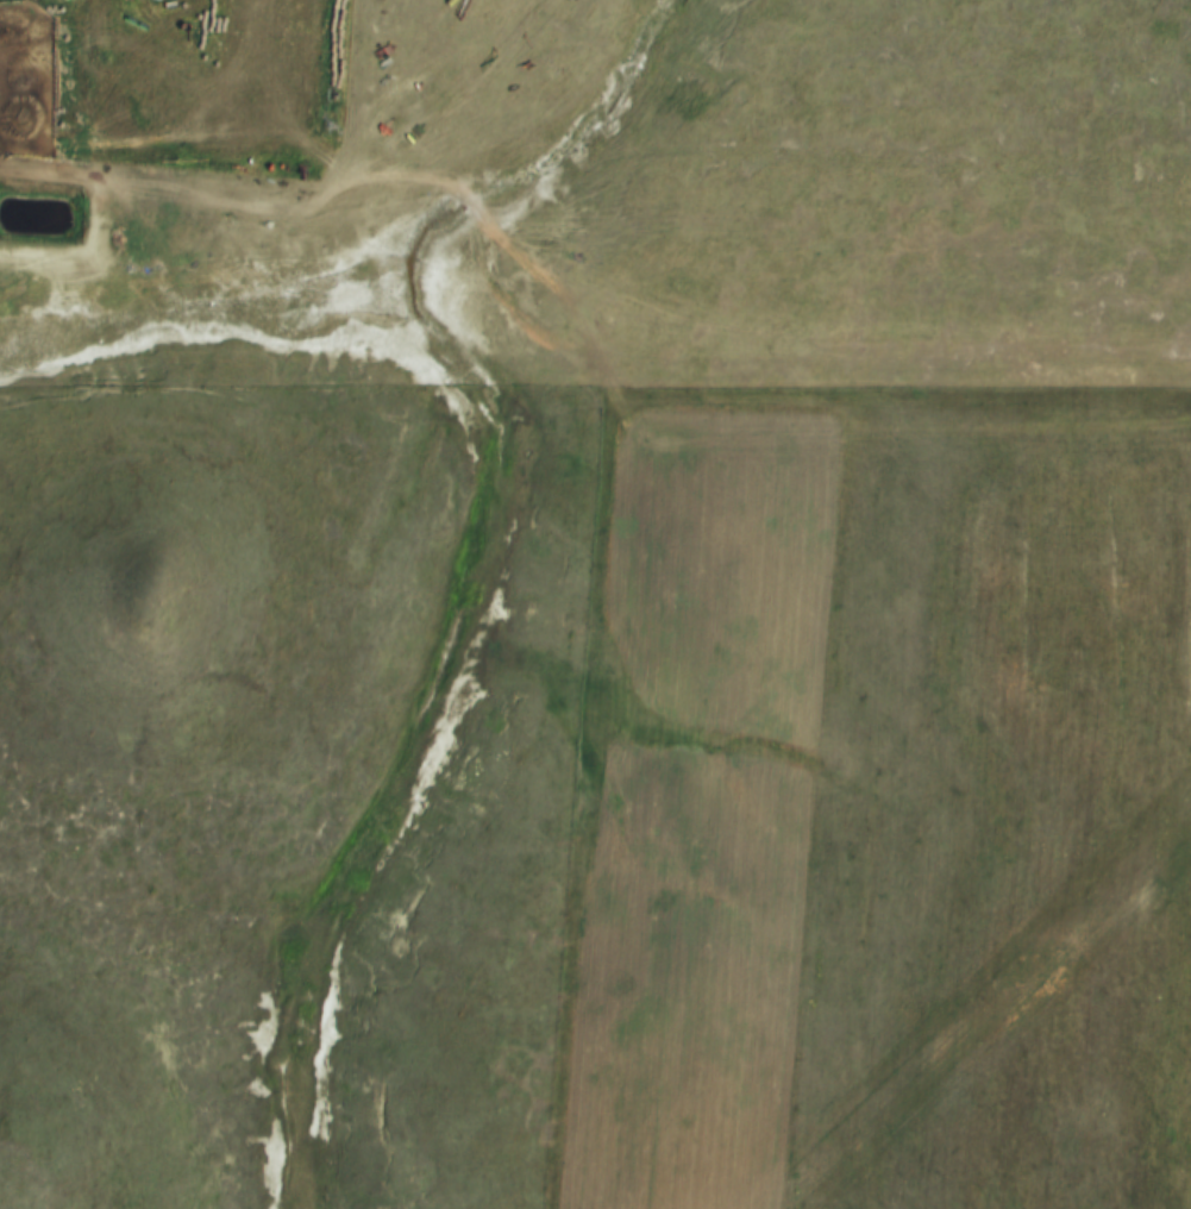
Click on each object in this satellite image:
road: (541, 340)

